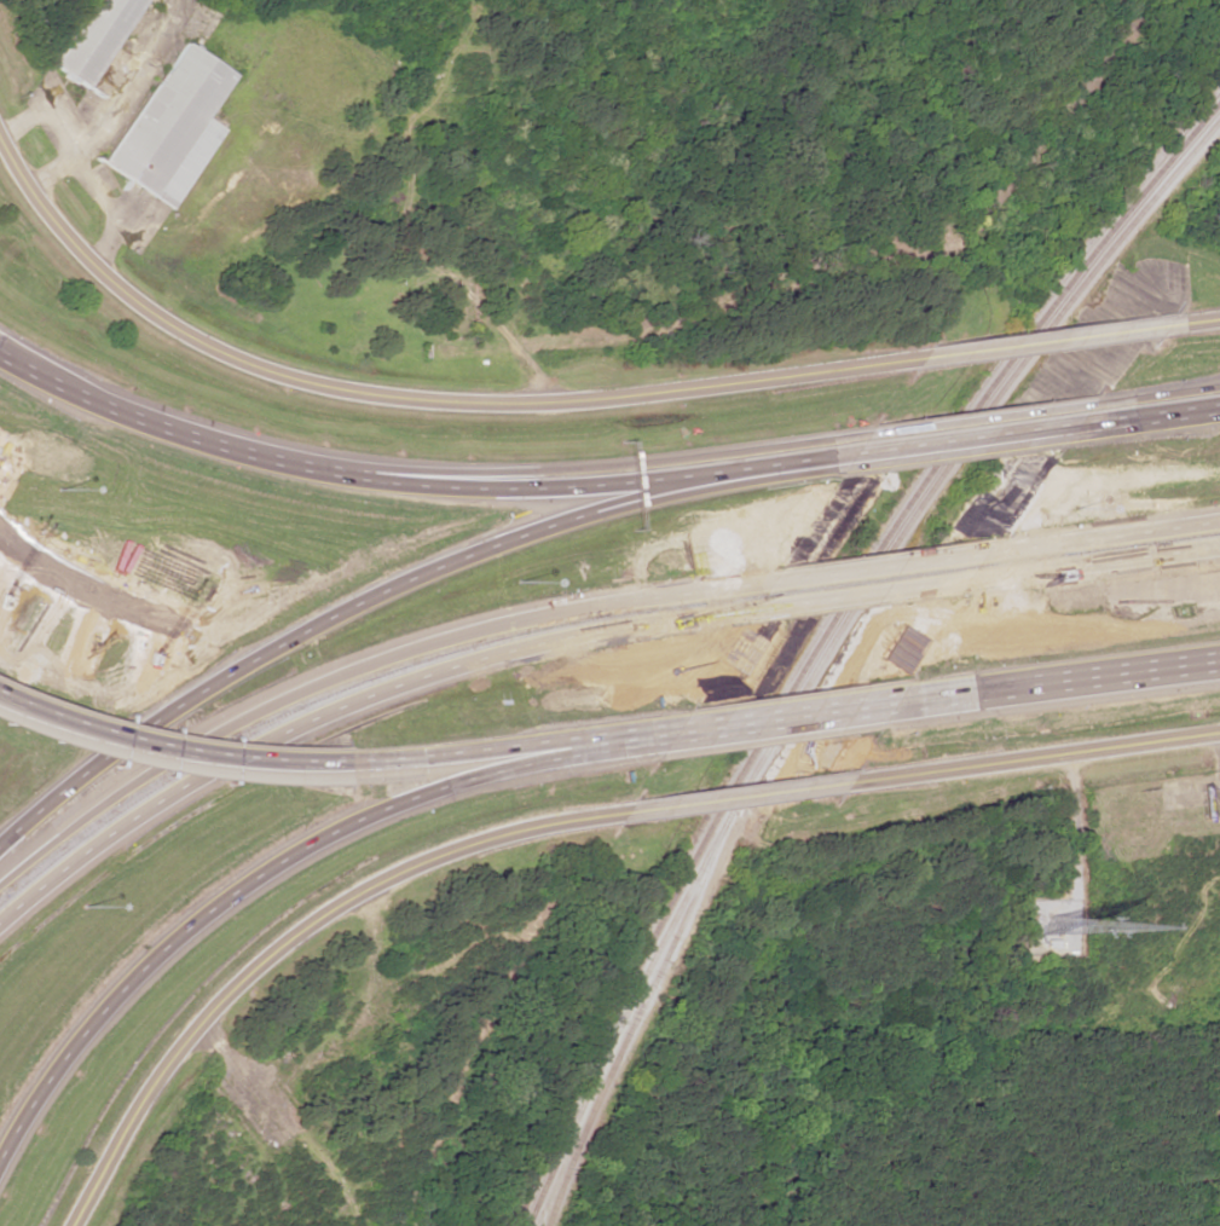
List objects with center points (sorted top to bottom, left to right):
building: (92, 39)
building: (170, 126)
road: (1195, 323)
road: (1045, 342)
road: (30, 365)
road: (1152, 395)
road: (411, 400)
road: (1146, 412)
road: (131, 417)
road: (975, 420)
road: (962, 439)
road: (813, 459)
road: (566, 469)
road: (521, 485)
road: (1100, 537)
road: (1091, 566)
road: (874, 568)
road: (854, 598)
road: (362, 601)
road: (620, 603)
railway: (825, 636)
railway: (831, 644)
road: (1054, 686)
road: (348, 706)
road: (773, 722)
road: (224, 730)
road: (595, 746)
road: (203, 754)
road: (474, 757)
road: (1033, 759)
road: (734, 799)
road: (221, 892)
road: (288, 937)
railway: (630, 1029)

